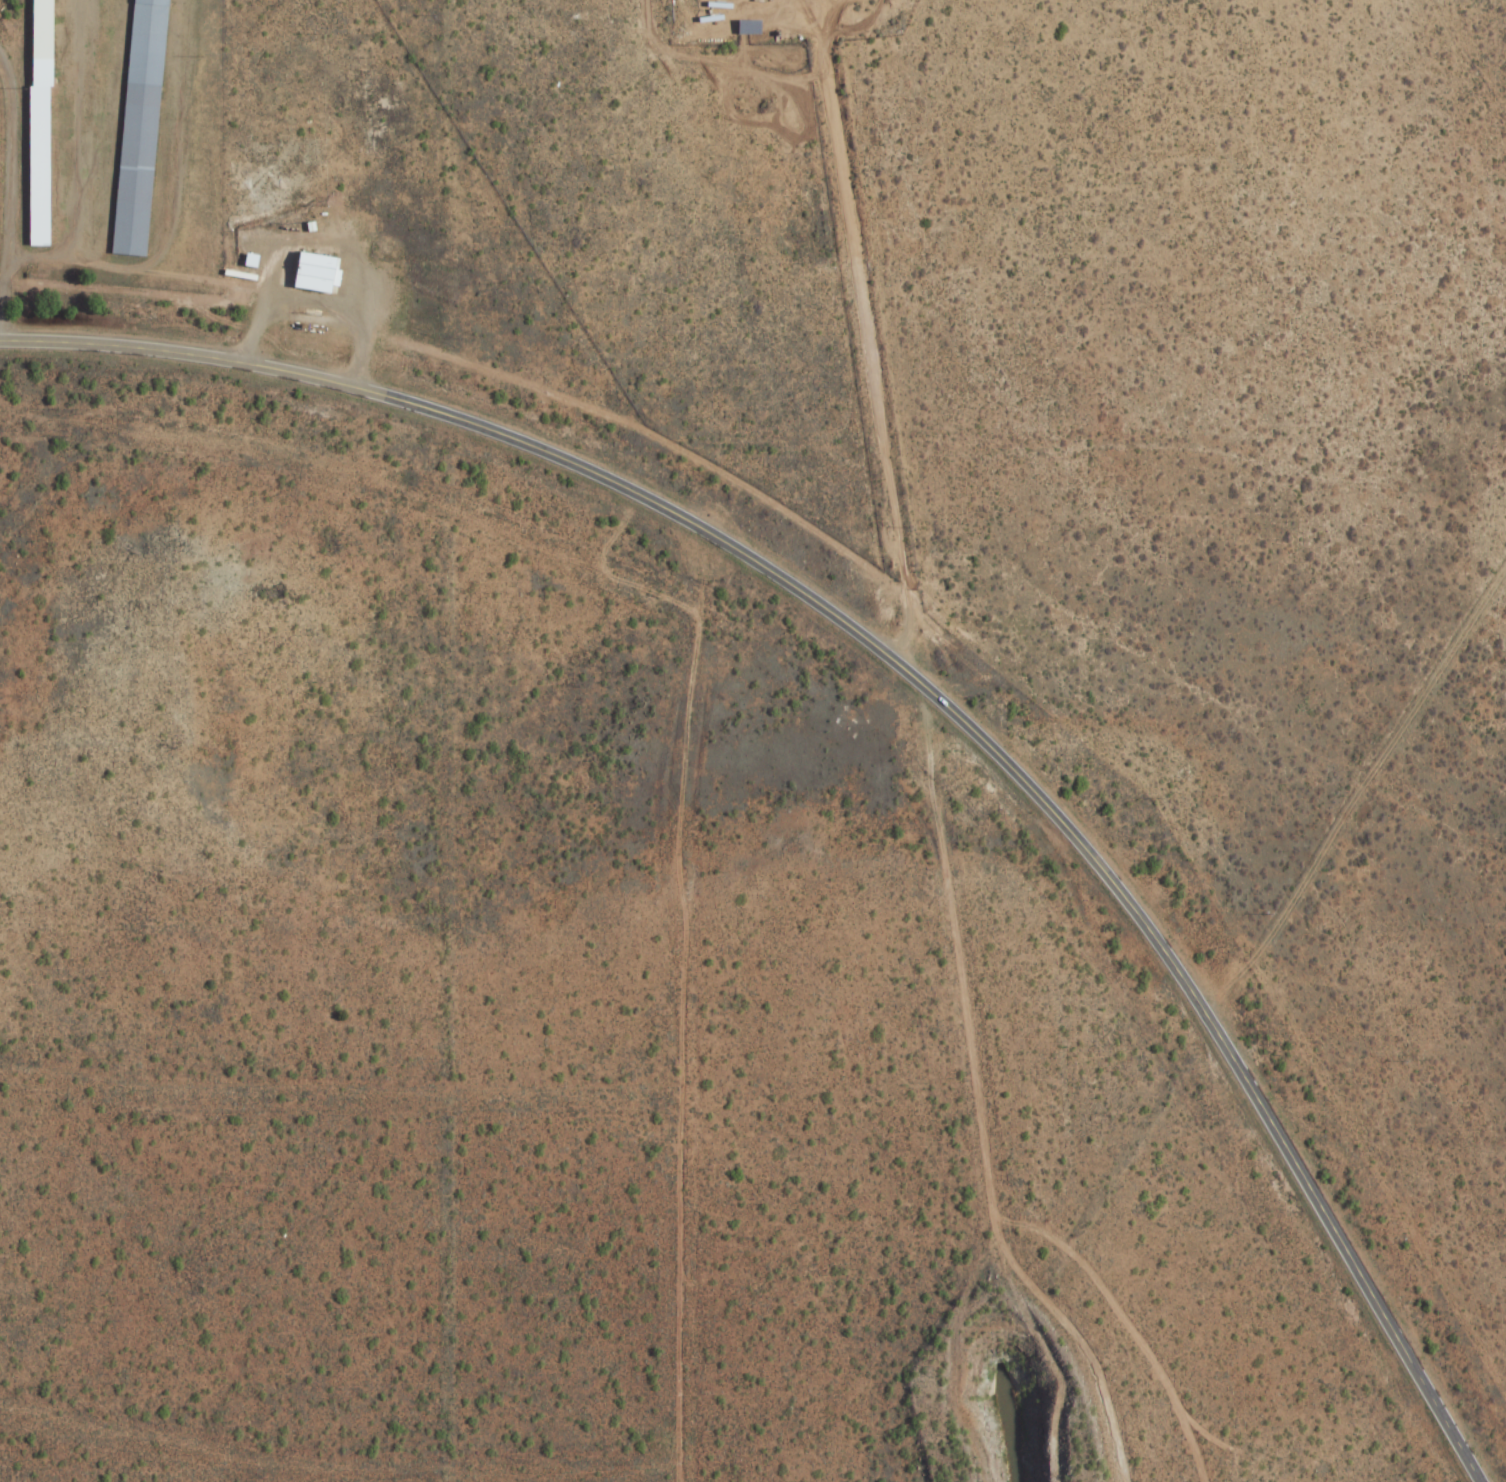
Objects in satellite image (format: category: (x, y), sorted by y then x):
building: (747, 27)
building: (41, 29)
building: (139, 127)
building: (37, 166)
road: (8, 196)
building: (313, 273)
road: (912, 676)
road: (1361, 802)

